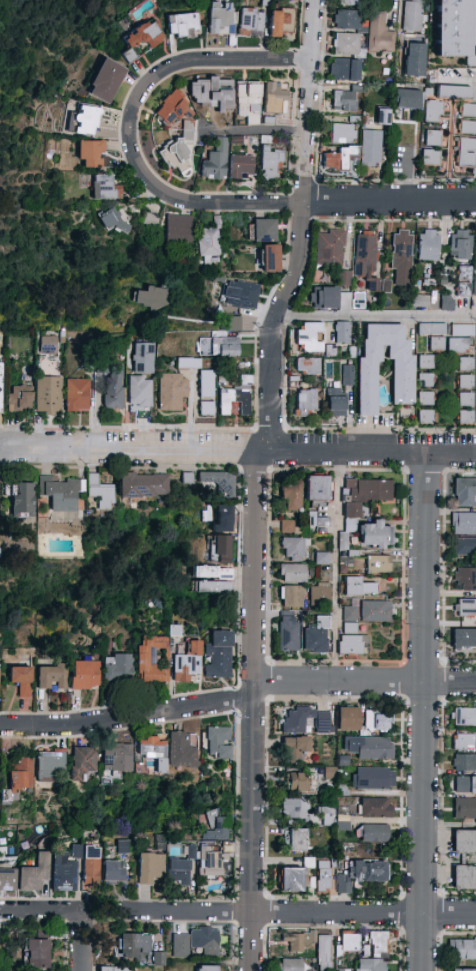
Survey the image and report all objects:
building: (351, 1)
building: (412, 16)
building: (220, 18)
building: (277, 20)
building: (346, 20)
building: (250, 21)
building: (182, 25)
building: (455, 29)
building: (379, 34)
building: (141, 38)
building: (345, 44)
building: (415, 56)
building: (345, 69)
road: (460, 76)
building: (106, 81)
building: (210, 92)
building: (276, 97)
building: (407, 99)
building: (445, 99)
building: (344, 100)
building: (248, 101)
building: (170, 108)
building: (468, 110)
building: (226, 116)
building: (383, 118)
building: (85, 120)
building: (467, 127)
road: (129, 128)
road: (262, 132)
building: (342, 134)
building: (433, 138)
building: (371, 148)
building: (177, 151)
building: (467, 152)
building: (91, 154)
building: (339, 158)
building: (430, 158)
building: (215, 161)
building: (269, 163)
building: (241, 168)
building: (105, 188)
road: (475, 189)
road: (390, 202)
building: (114, 219)
building: (148, 221)
road: (303, 227)
building: (178, 228)
building: (264, 230)
building: (207, 243)
building: (428, 245)
building: (460, 245)
building: (329, 247)
building: (401, 249)
building: (271, 259)
building: (366, 259)
building: (464, 273)
building: (343, 276)
building: (386, 286)
building: (473, 286)
building: (463, 290)
building: (243, 294)
building: (152, 296)
building: (326, 298)
building: (421, 301)
building: (447, 302)
building: (357, 304)
road: (377, 314)
building: (232, 322)
building: (431, 329)
building: (342, 332)
building: (309, 337)
building: (460, 338)
building: (437, 344)
building: (47, 345)
building: (217, 347)
building: (143, 358)
building: (426, 362)
building: (188, 363)
building: (466, 364)
building: (307, 366)
building: (347, 375)
building: (426, 380)
building: (466, 382)
building: (403, 383)
building: (206, 384)
building: (0, 386)
building: (113, 388)
building: (140, 391)
building: (171, 391)
building: (48, 394)
building: (77, 395)
building: (19, 398)
building: (426, 398)
building: (465, 399)
building: (234, 401)
building: (306, 402)
building: (336, 402)
building: (206, 408)
building: (425, 416)
building: (466, 417)
road: (238, 449)
building: (186, 478)
building: (215, 482)
building: (143, 485)
building: (317, 488)
building: (465, 492)
building: (60, 493)
building: (100, 493)
building: (291, 496)
building: (363, 497)
building: (21, 499)
building: (224, 516)
building: (320, 521)
building: (464, 523)
building: (287, 526)
building: (375, 536)
building: (342, 539)
building: (222, 545)
building: (464, 546)
building: (294, 549)
building: (322, 558)
building: (378, 564)
road: (334, 566)
road: (254, 570)
building: (211, 572)
building: (293, 573)
building: (465, 579)
building: (211, 587)
building: (358, 587)
building: (320, 592)
building: (292, 596)
building: (465, 608)
building: (375, 611)
building: (350, 619)
building: (174, 630)
building: (288, 633)
building: (317, 636)
building: (464, 640)
building: (351, 645)
building: (218, 655)
building: (149, 659)
building: (187, 661)
building: (117, 667)
building: (84, 675)
building: (51, 677)
building: (21, 679)
road: (238, 699)
road: (422, 710)
building: (463, 717)
building: (347, 719)
building: (296, 720)
building: (323, 720)
building: (379, 721)
building: (218, 742)
building: (464, 742)
building: (295, 748)
building: (371, 748)
building: (152, 751)
building: (181, 751)
building: (117, 758)
building: (82, 762)
building: (50, 763)
building: (464, 763)
building: (20, 774)
building: (373, 778)
building: (301, 782)
building: (465, 785)
building: (295, 808)
building: (376, 808)
building: (464, 809)
building: (327, 816)
building: (343, 826)
building: (217, 827)
road: (251, 830)
building: (374, 833)
building: (296, 840)
building: (464, 842)
building: (122, 846)
building: (210, 863)
building: (150, 867)
building: (90, 868)
building: (64, 870)
building: (113, 870)
building: (179, 871)
building: (363, 873)
building: (34, 874)
building: (325, 877)
building: (464, 877)
building: (7, 879)
building: (291, 879)
road: (41, 910)
road: (294, 912)
road: (82, 941)
building: (196, 942)
building: (349, 942)
building: (377, 943)
building: (133, 946)
building: (293, 949)
building: (462, 949)
building: (37, 954)
building: (156, 957)
building: (290, 965)
building: (370, 965)
building: (207, 968)
building: (115, 969)
building: (462, 970)

